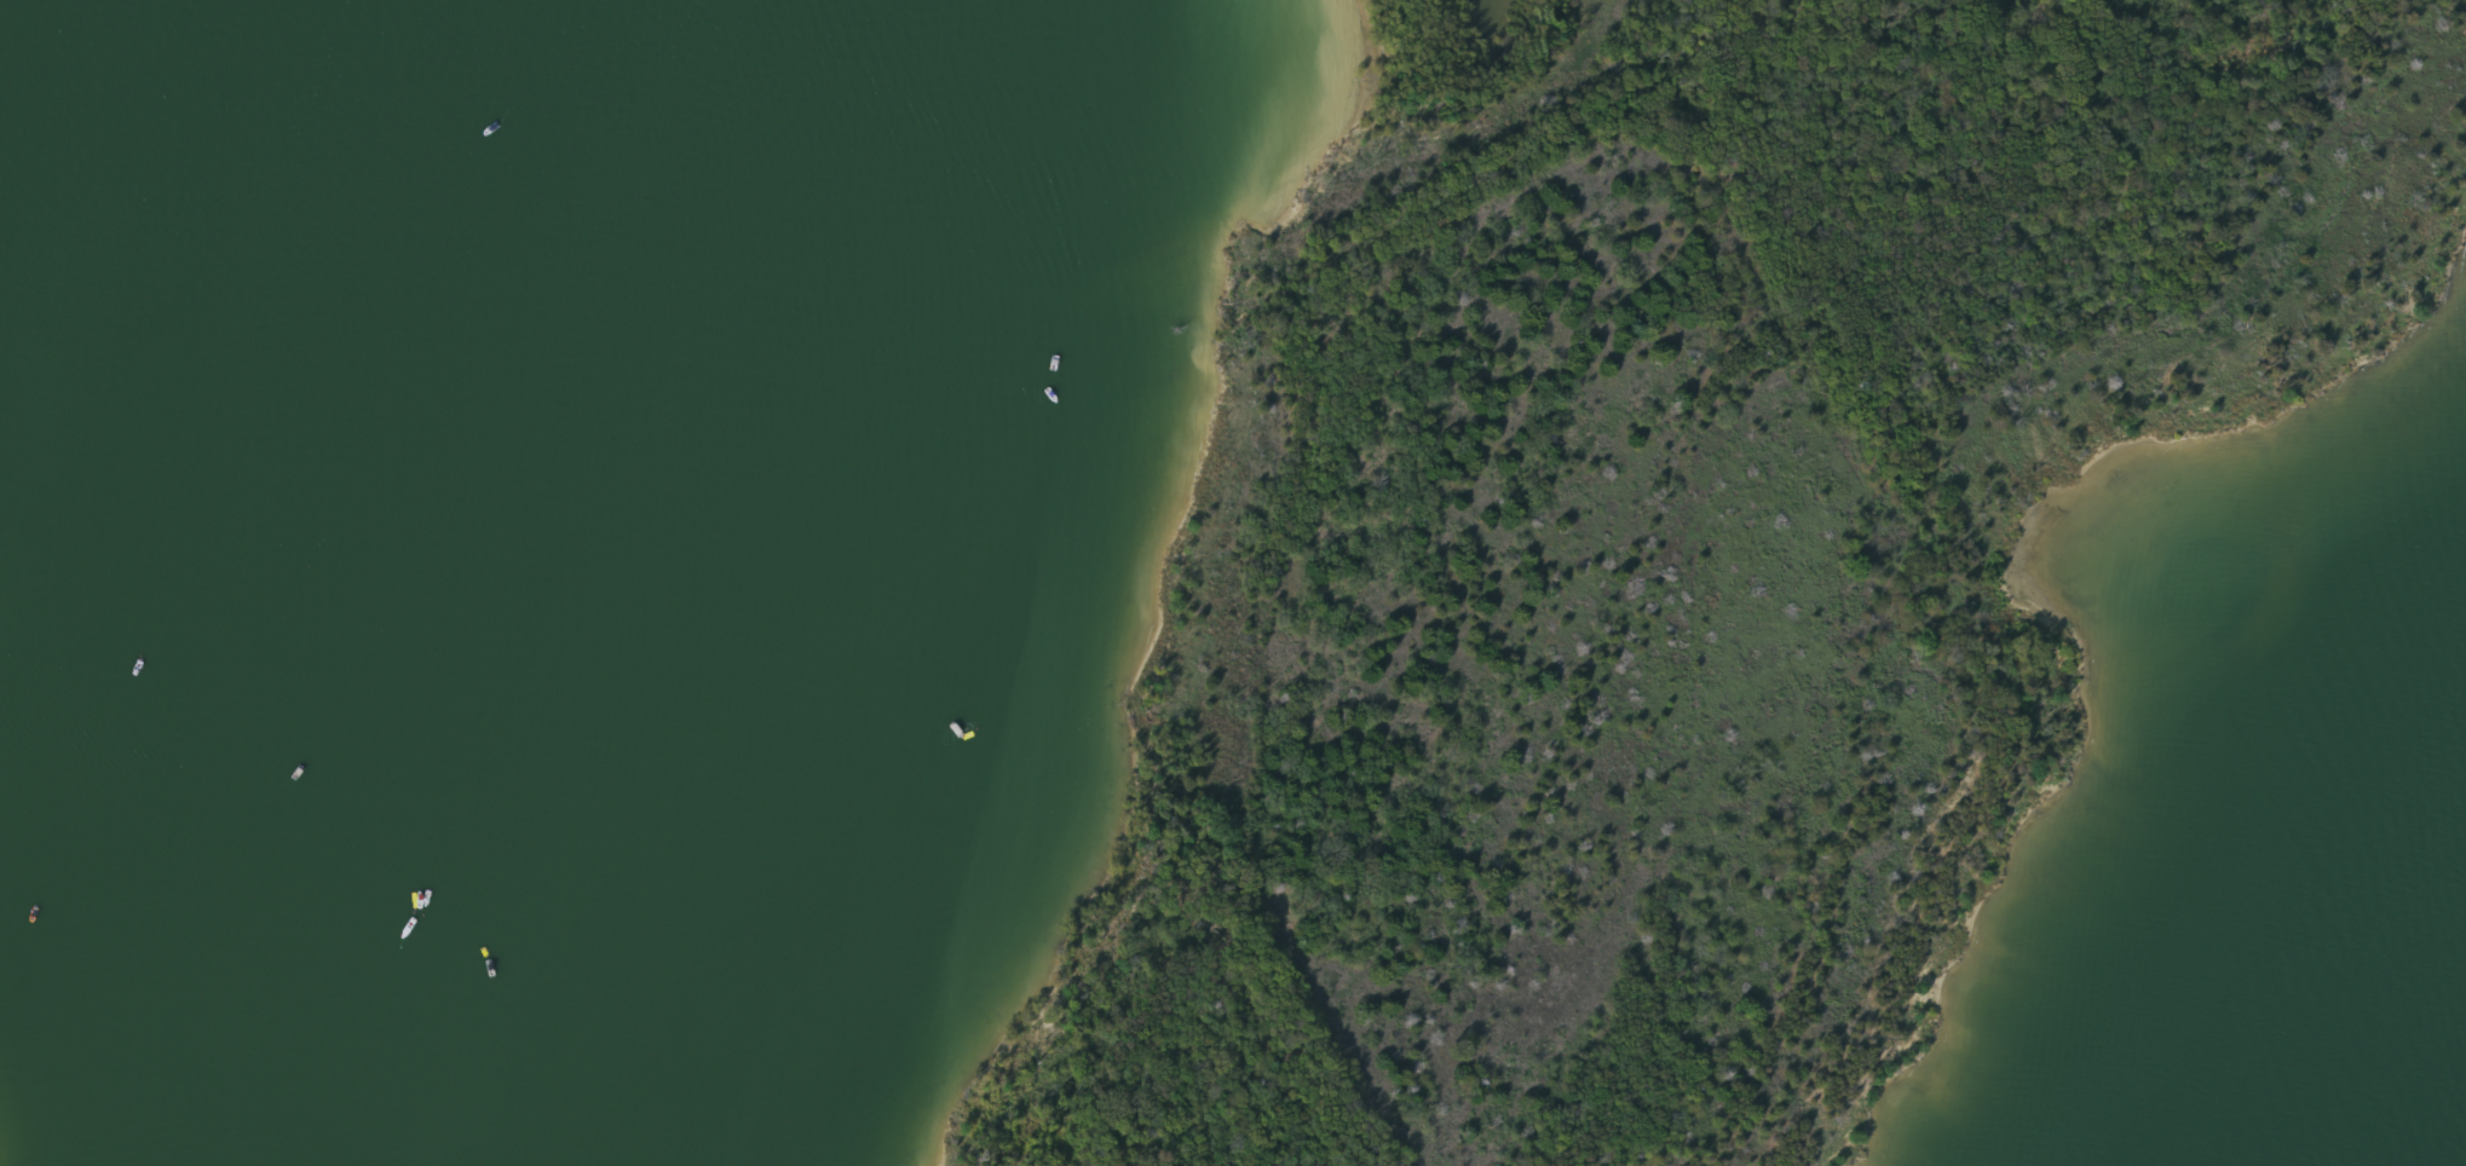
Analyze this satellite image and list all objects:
park: (1683, 554)

